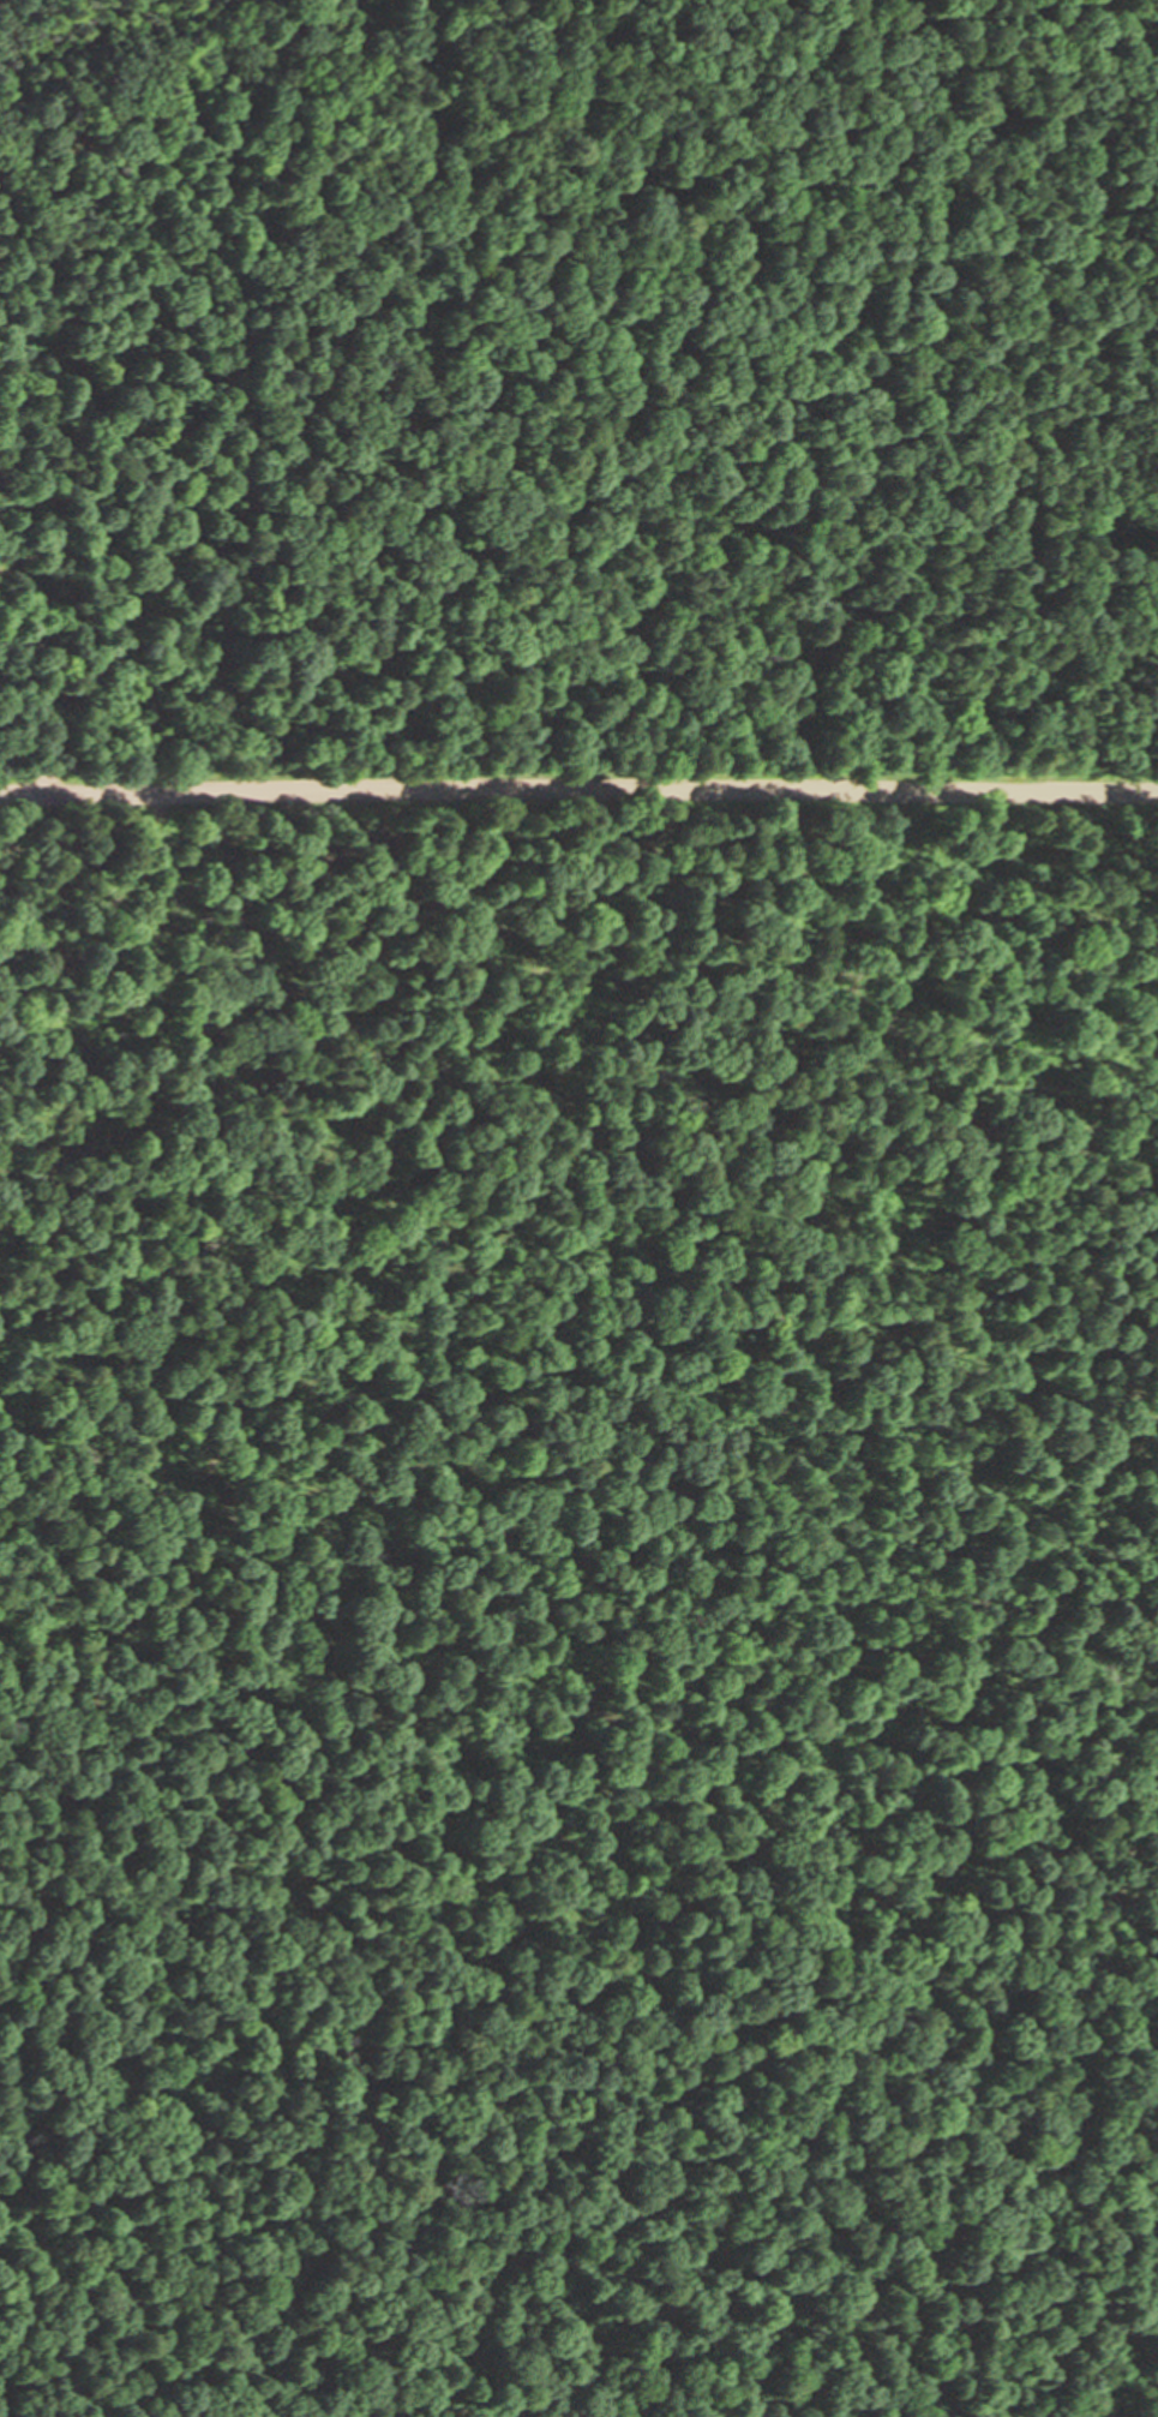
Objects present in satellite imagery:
road: (578, 792)

